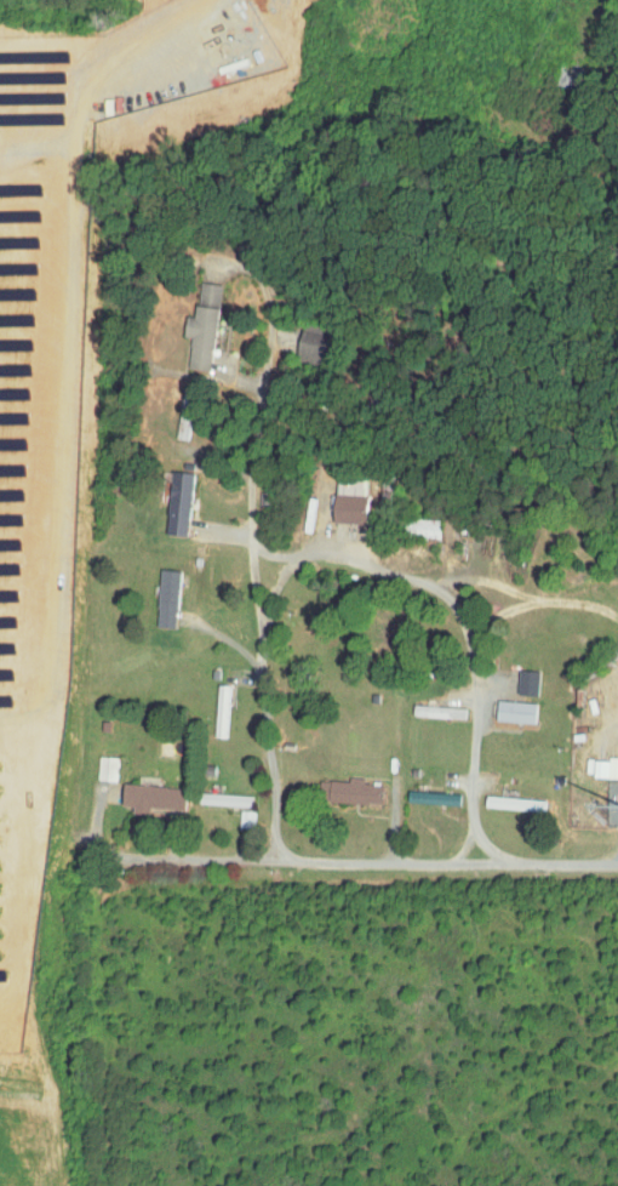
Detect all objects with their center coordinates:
road: (599, 29)
road: (91, 55)
building: (185, 318)
building: (294, 336)
building: (161, 495)
building: (331, 500)
building: (150, 589)
road: (250, 610)
road: (457, 615)
building: (510, 674)
building: (422, 703)
building: (498, 703)
building: (591, 759)
building: (91, 760)
building: (331, 783)
building: (135, 789)
building: (416, 789)
building: (208, 791)
building: (498, 796)
road: (364, 866)

